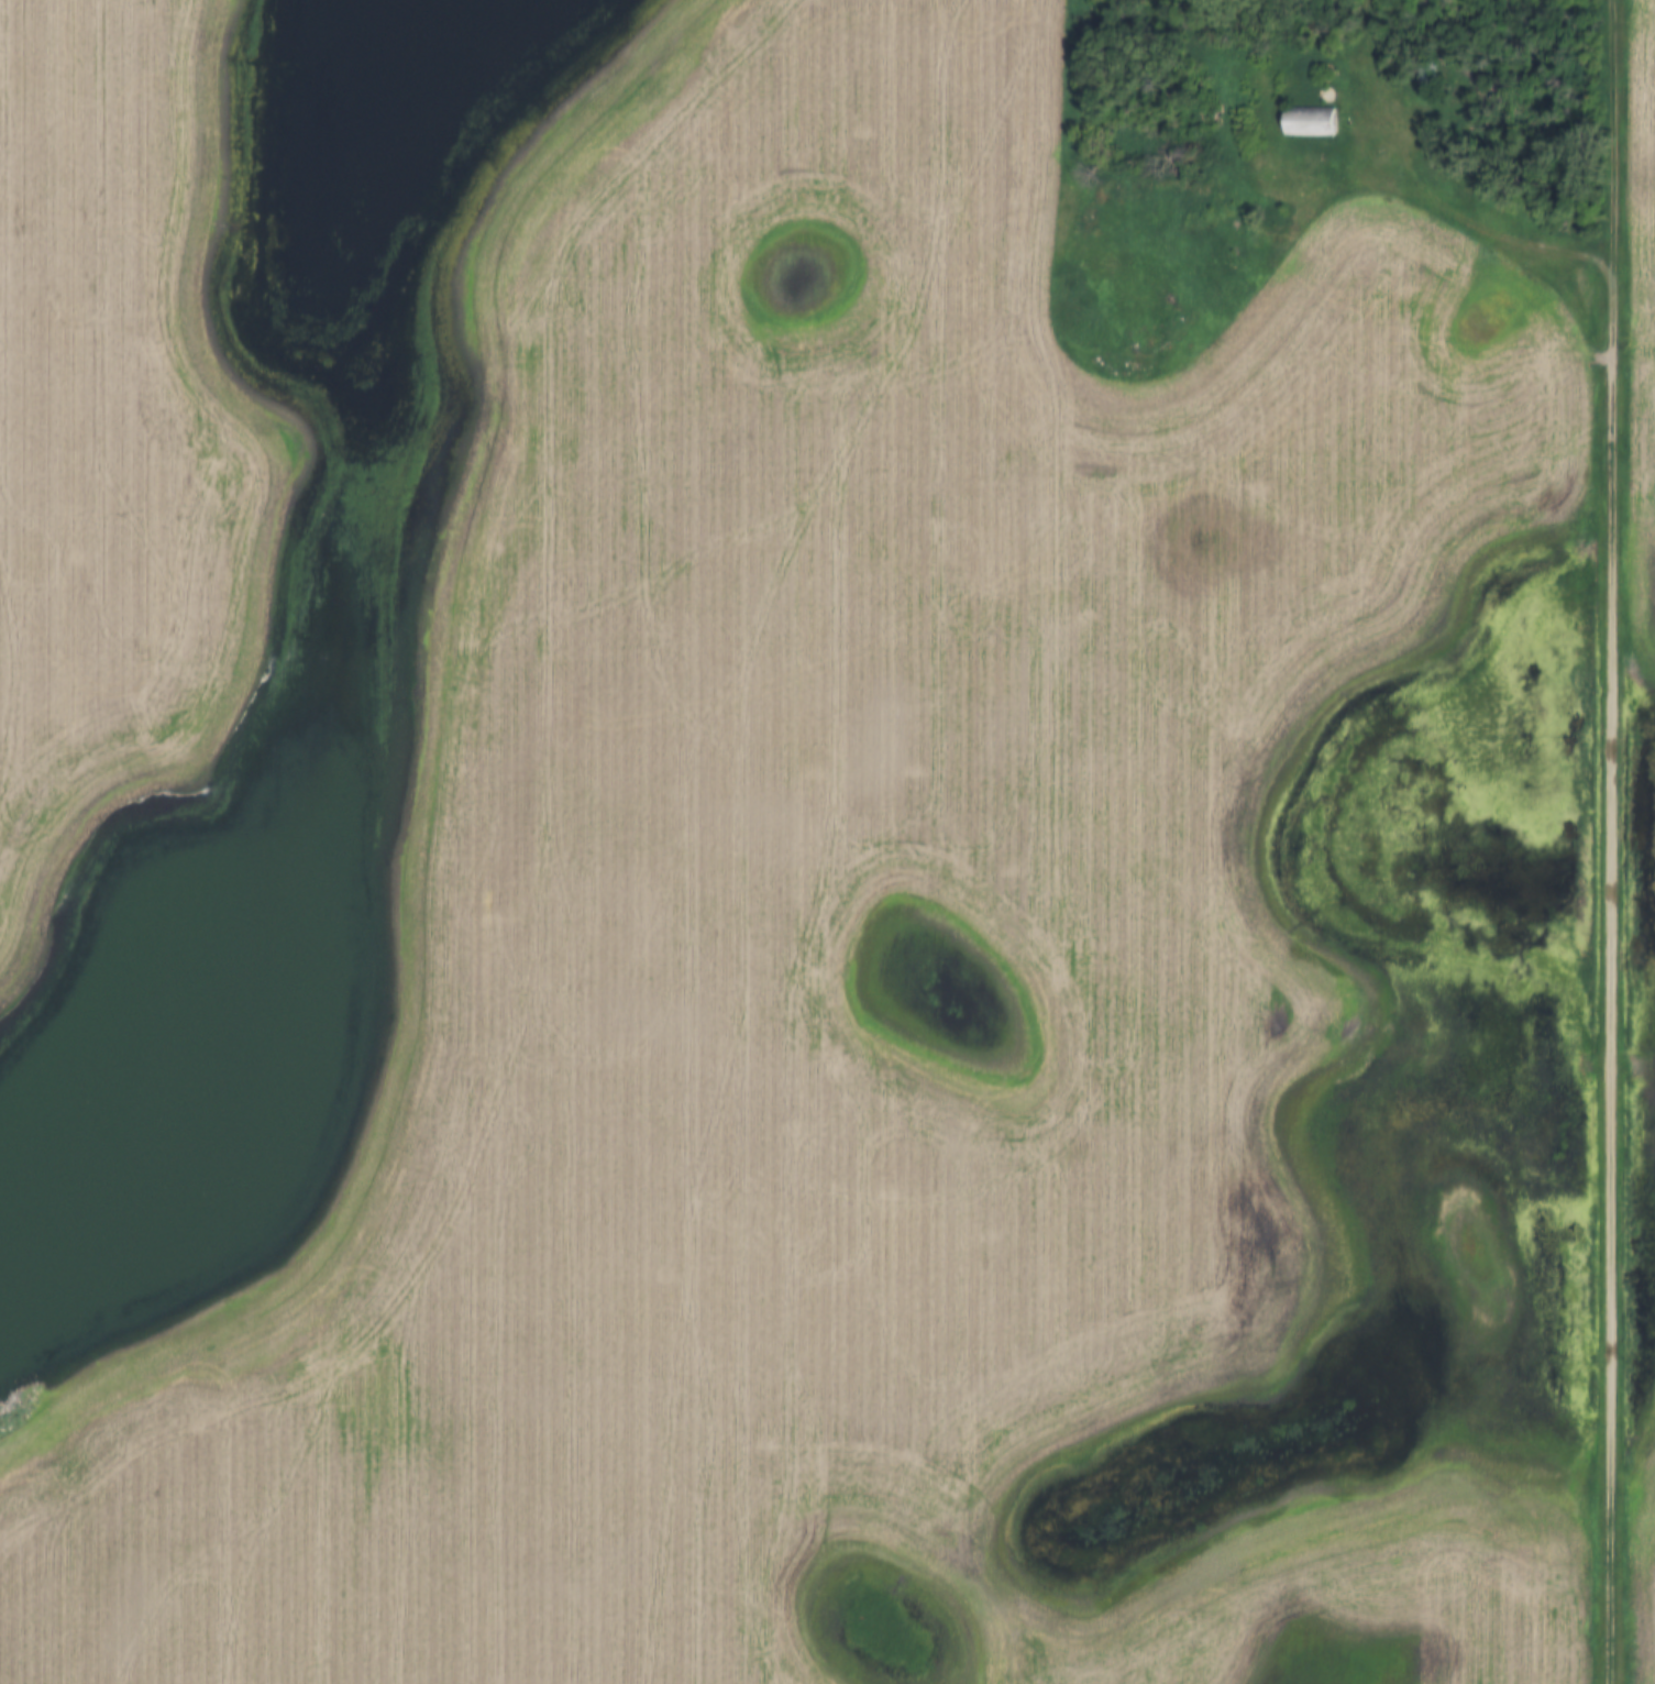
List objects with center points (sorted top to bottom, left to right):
building: (1309, 121)
road: (1613, 141)
road: (1472, 222)
road: (1609, 982)

